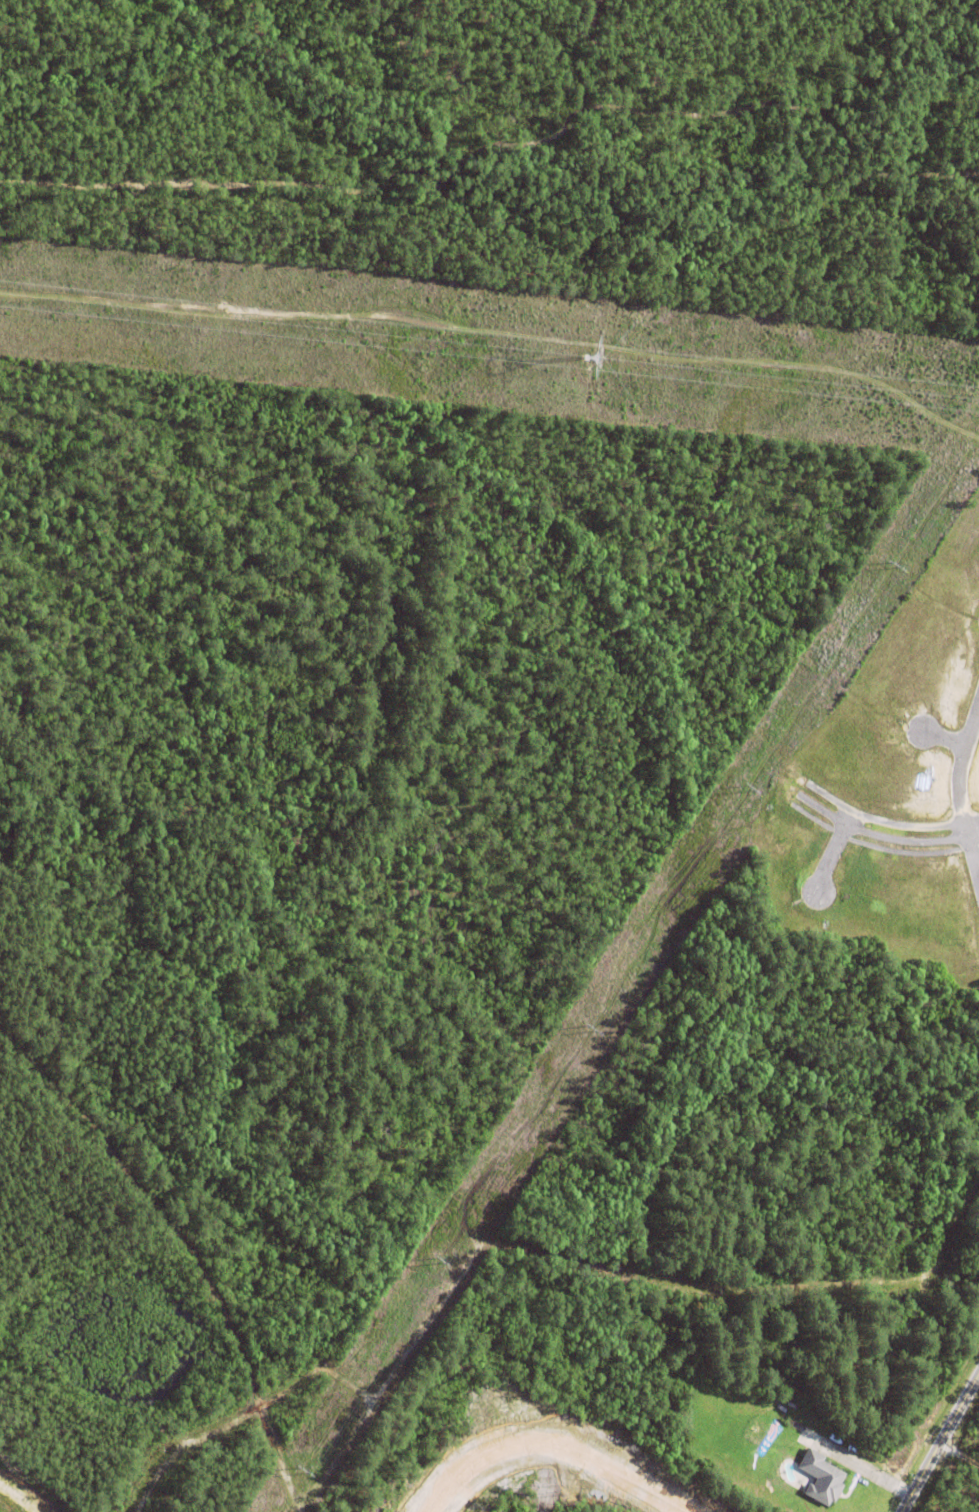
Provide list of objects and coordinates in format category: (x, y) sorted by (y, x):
power tower: (577, 357)
road: (185, 1246)
road: (940, 1442)
road: (959, 1455)
building: (822, 1480)

